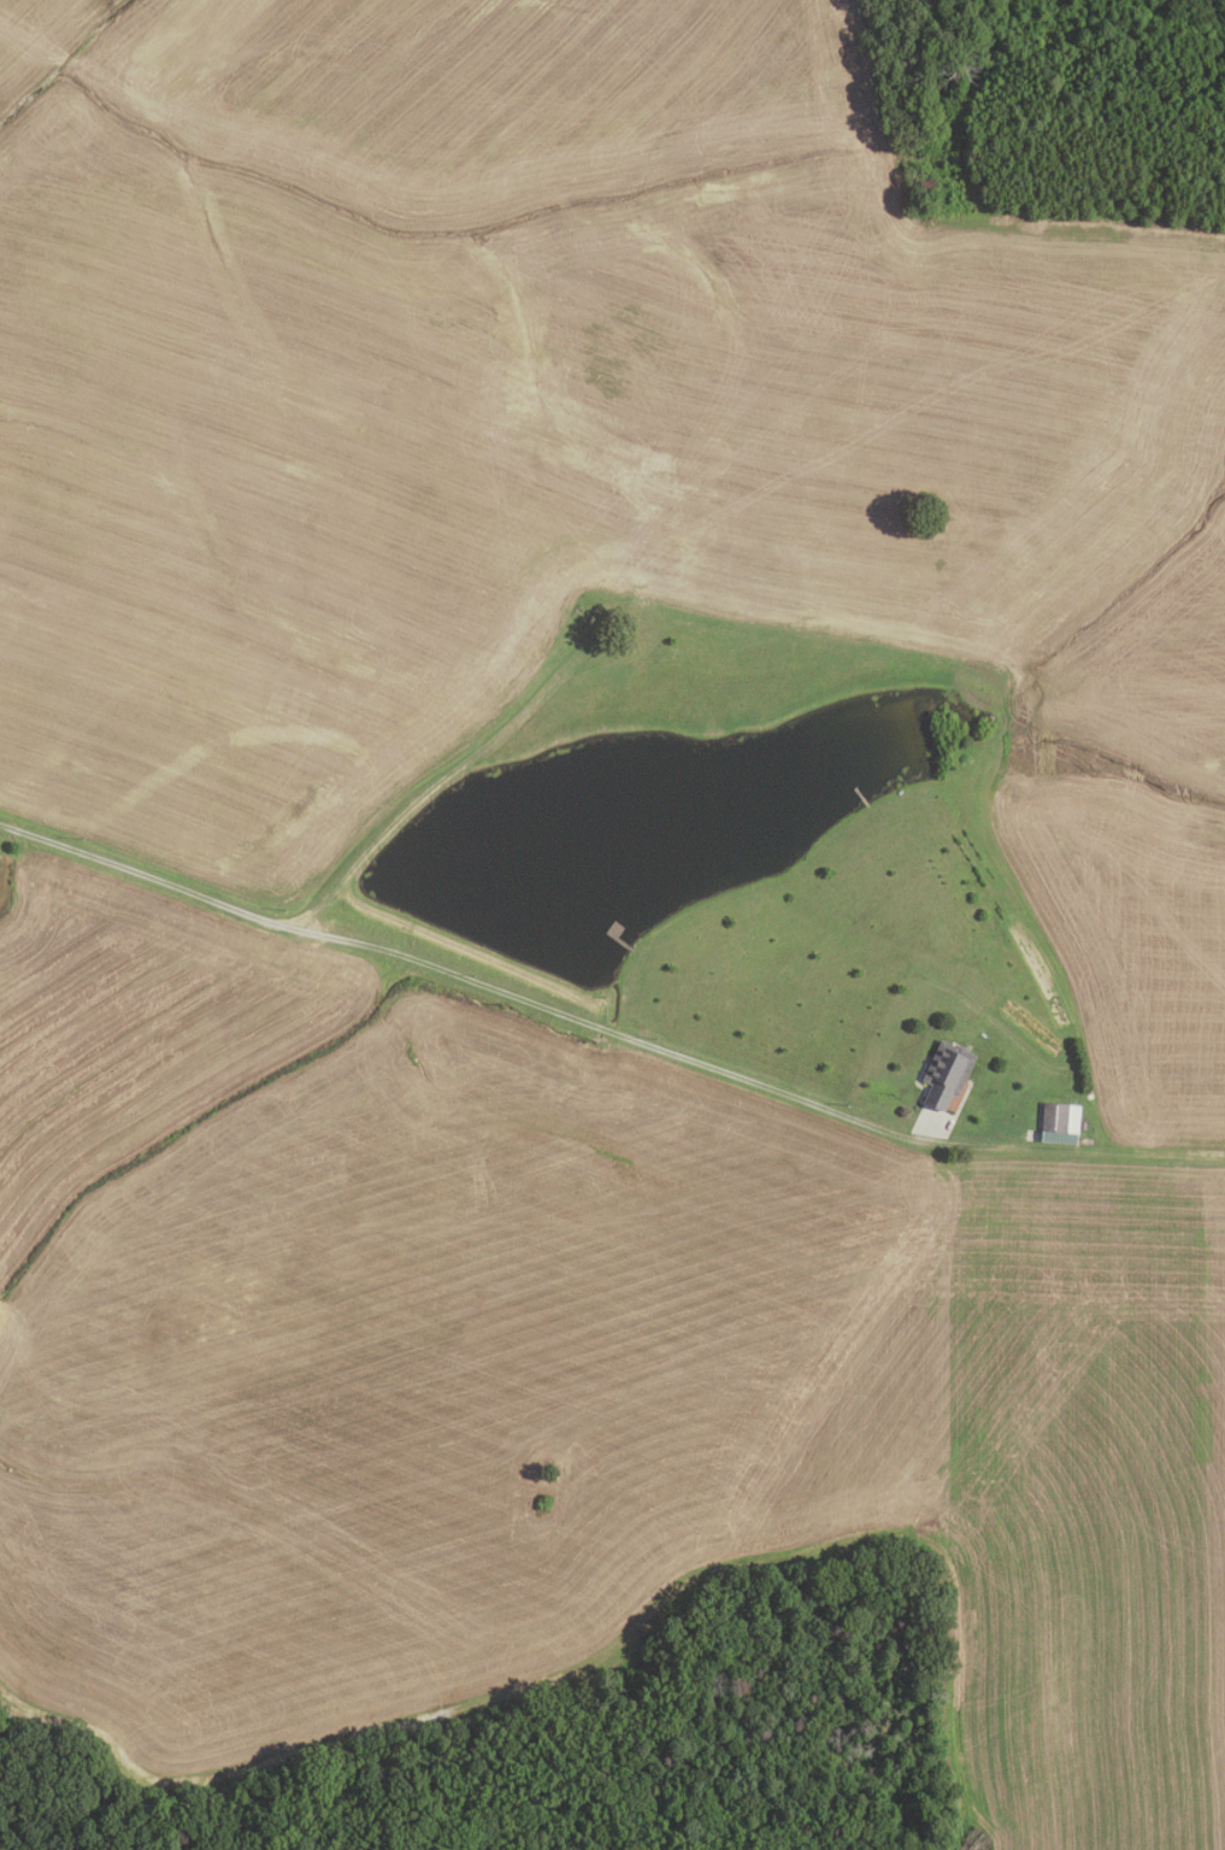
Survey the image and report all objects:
road: (477, 982)
building: (947, 1073)
building: (1058, 1123)
road: (1088, 1153)

